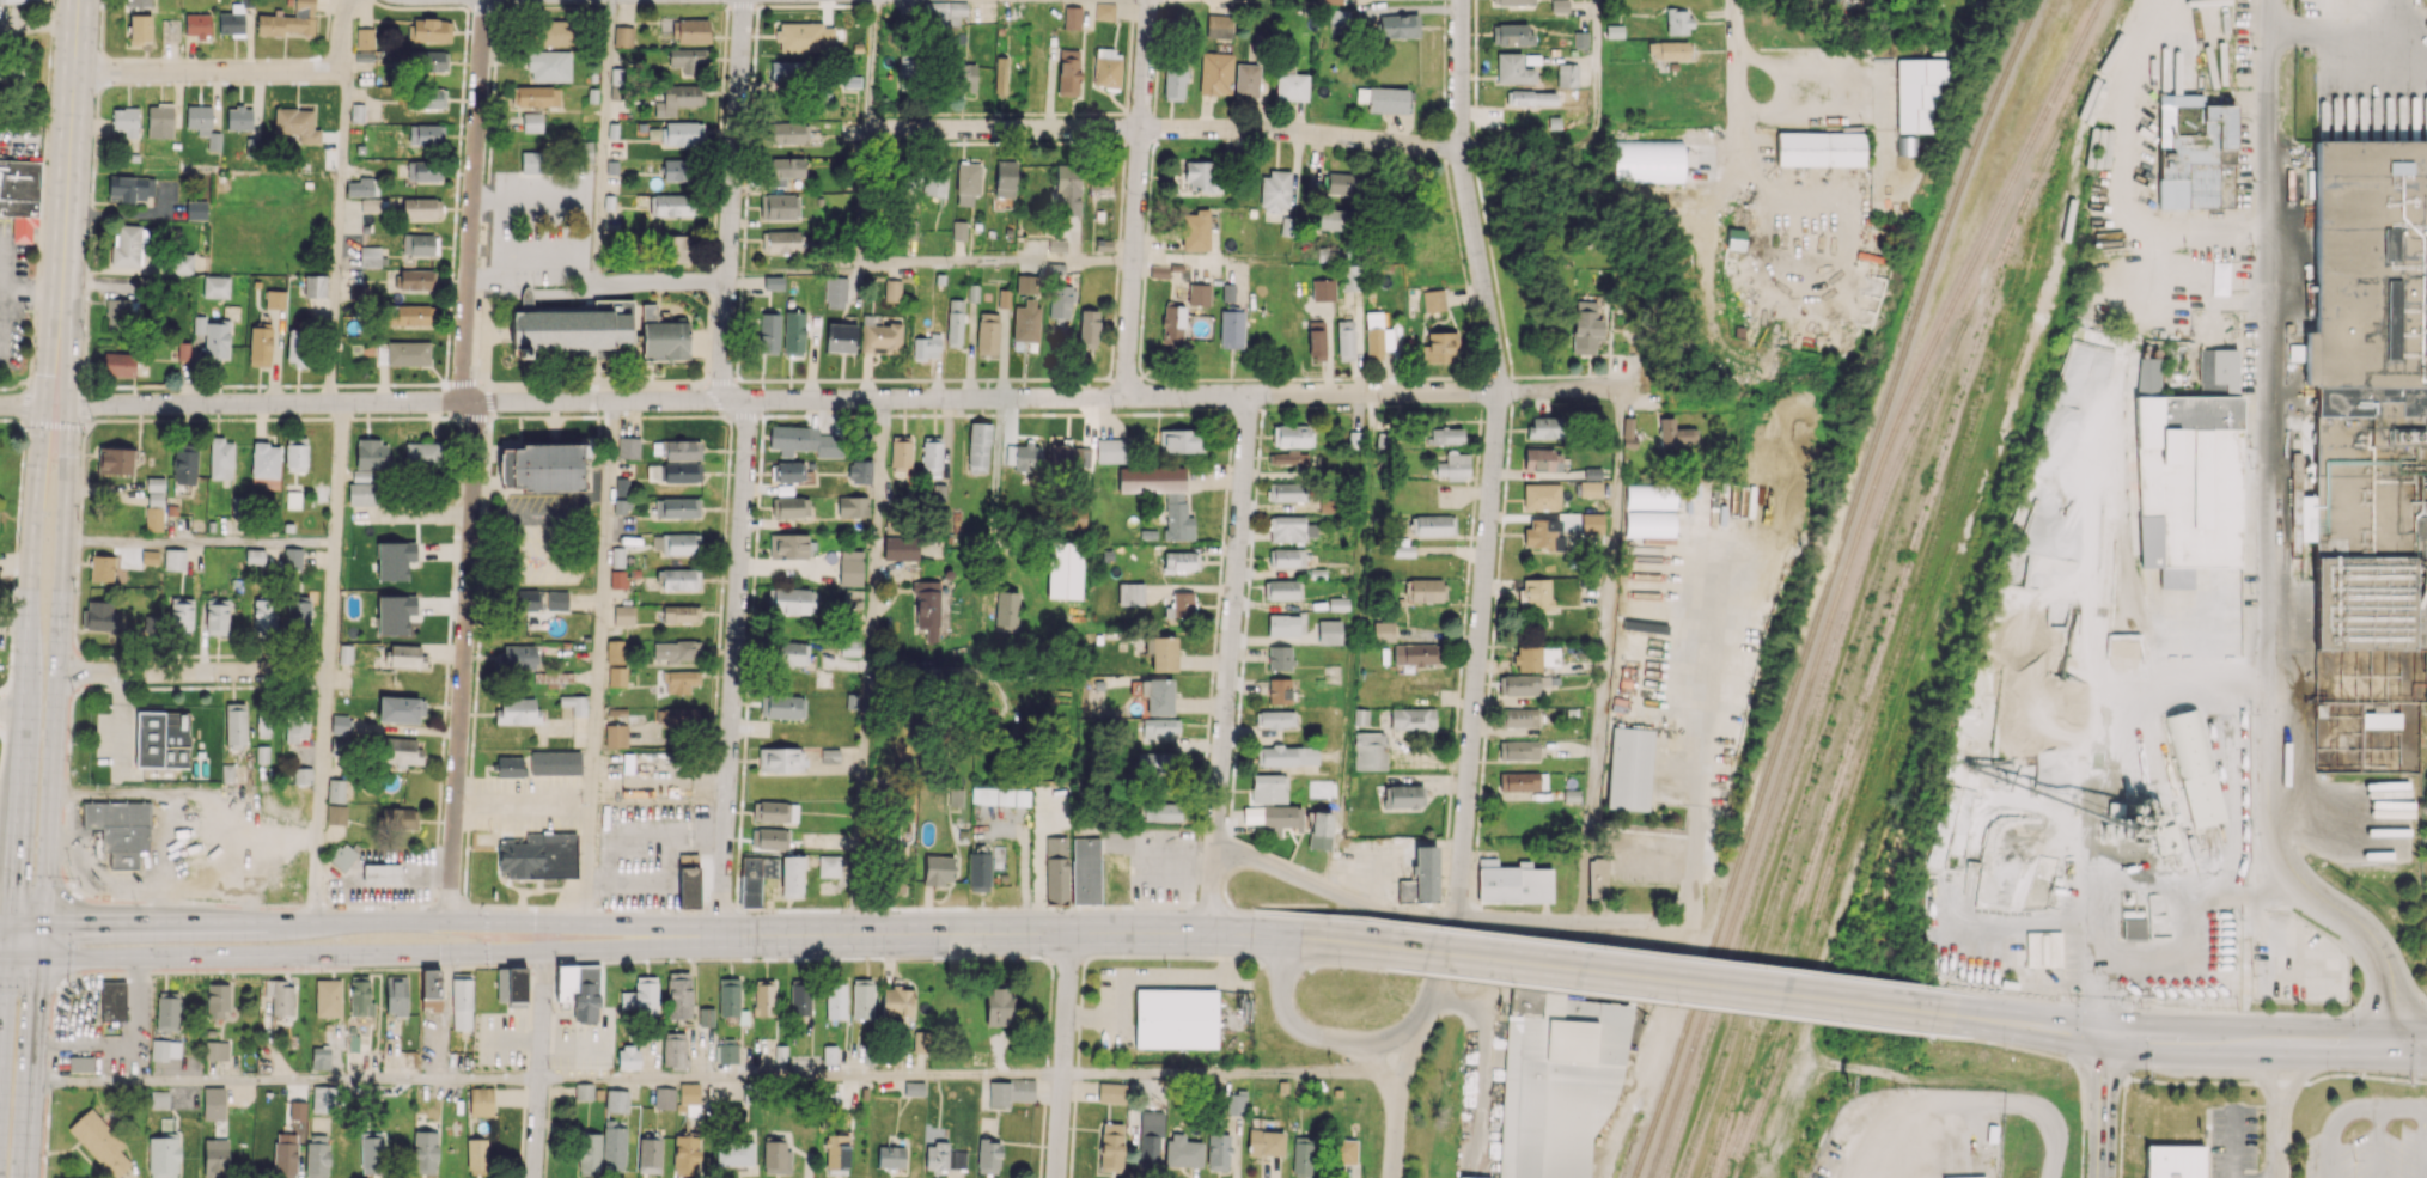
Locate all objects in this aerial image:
building: (17, 1)
building: (1331, 1)
building: (138, 2)
building: (1512, 2)
building: (1104, 11)
building: (943, 13)
building: (1338, 17)
building: (1071, 18)
building: (287, 20)
building: (1678, 22)
building: (197, 24)
building: (1219, 25)
building: (1398, 25)
building: (140, 28)
road: (2335, 29)
building: (170, 30)
building: (431, 30)
building: (690, 30)
building: (1614, 31)
road: (342, 32)
building: (553, 32)
building: (1511, 35)
building: (622, 36)
building: (364, 37)
building: (805, 37)
building: (1669, 50)
building: (687, 57)
building: (427, 60)
road: (871, 63)
road: (1733, 65)
building: (549, 66)
building: (908, 67)
building: (1105, 67)
building: (1512, 69)
road: (206, 71)
building: (786, 71)
building: (1068, 72)
building: (1215, 73)
building: (1000, 74)
building: (1567, 75)
building: (964, 77)
building: (1175, 78)
road: (1597, 78)
building: (1246, 80)
building: (1289, 83)
building: (1916, 92)
building: (537, 96)
building: (1532, 97)
building: (431, 98)
building: (676, 98)
building: (1385, 99)
building: (356, 112)
building: (239, 117)
building: (124, 121)
building: (159, 121)
railway: (2072, 121)
building: (532, 122)
building: (295, 123)
building: (202, 124)
road: (1165, 129)
building: (788, 132)
building: (426, 133)
building: (682, 133)
building: (1905, 146)
road: (1519, 147)
building: (1821, 148)
building: (2194, 153)
building: (531, 161)
building: (423, 170)
building: (675, 170)
building: (783, 170)
building: (1201, 176)
building: (1005, 178)
building: (934, 181)
building: (966, 182)
building: (1340, 182)
building: (360, 187)
building: (129, 188)
building: (1067, 189)
road: (864, 195)
building: (19, 196)
road: (1136, 197)
building: (1277, 197)
railway: (2050, 200)
road: (67, 201)
building: (370, 205)
building: (670, 205)
building: (780, 206)
building: (421, 207)
road: (598, 207)
building: (196, 209)
building: (1333, 219)
building: (909, 228)
building: (959, 230)
building: (1195, 230)
road: (339, 233)
building: (1734, 238)
building: (783, 240)
building: (417, 244)
building: (126, 245)
building: (1057, 245)
building: (675, 249)
road: (1703, 250)
building: (368, 256)
road: (1285, 261)
road: (996, 262)
building: (182, 263)
road: (798, 273)
building: (1349, 277)
building: (416, 279)
building: (773, 282)
building: (1026, 283)
building: (315, 285)
building: (215, 286)
building: (377, 286)
building: (1323, 289)
road: (31, 291)
building: (892, 291)
building: (836, 292)
building: (1199, 294)
building: (275, 299)
building: (1432, 299)
building: (1061, 300)
building: (118, 315)
building: (407, 315)
building: (1025, 321)
building: (955, 322)
building: (199, 324)
building: (1172, 324)
building: (1586, 325)
building: (573, 328)
building: (1087, 328)
building: (1231, 329)
building: (768, 332)
building: (794, 332)
building: (987, 332)
building: (661, 336)
building: (1377, 336)
building: (217, 337)
building: (840, 337)
building: (880, 337)
building: (1316, 340)
building: (1344, 340)
building: (260, 344)
building: (927, 346)
building: (295, 347)
building: (1437, 348)
building: (408, 353)
building: (118, 364)
building: (2218, 371)
road: (847, 398)
road: (28, 403)
building: (2368, 417)
railway: (2118, 420)
railway: (1917, 422)
road: (53, 423)
building: (1545, 427)
building: (1676, 433)
building: (1292, 435)
building: (1443, 435)
building: (1181, 440)
building: (804, 441)
building: (628, 446)
building: (978, 447)
building: (683, 450)
building: (1110, 450)
building: (901, 451)
building: (421, 453)
building: (295, 454)
building: (371, 454)
building: (1069, 456)
building: (931, 457)
building: (1023, 457)
building: (220, 458)
building: (1289, 458)
building: (115, 459)
building: (264, 459)
road: (475, 459)
road: (1492, 459)
building: (1542, 459)
building: (184, 464)
building: (543, 465)
road: (745, 465)
building: (1453, 465)
building: (788, 471)
building: (859, 471)
building: (682, 472)
road: (994, 477)
building: (2187, 480)
building: (621, 486)
building: (1590, 488)
building: (154, 490)
building: (1287, 490)
building: (1699, 492)
building: (362, 493)
building: (1541, 496)
building: (1175, 503)
building: (789, 506)
building: (853, 506)
building: (677, 507)
building: (153, 518)
building: (1591, 523)
building: (1433, 524)
building: (1289, 529)
building: (1543, 532)
building: (675, 542)
road: (200, 543)
building: (787, 545)
building: (1401, 547)
building: (900, 548)
road: (2267, 548)
building: (255, 555)
building: (150, 556)
building: (292, 557)
building: (1288, 557)
building: (175, 559)
building: (396, 559)
building: (1181, 561)
building: (100, 567)
building: (850, 567)
railway: (1860, 567)
building: (1065, 569)
railway: (1846, 576)
building: (617, 578)
railway: (1877, 578)
building: (679, 579)
railway: (2124, 582)
railway: (1829, 585)
building: (1283, 588)
building: (1420, 590)
building: (1130, 593)
building: (1535, 593)
building: (853, 598)
building: (525, 599)
building: (556, 599)
building: (793, 600)
building: (1182, 604)
building: (927, 608)
building: (1006, 611)
building: (395, 612)
building: (681, 612)
building: (181, 615)
building: (298, 615)
building: (623, 615)
building: (102, 616)
building: (217, 616)
building: (264, 616)
railway: (2135, 622)
building: (1282, 624)
building: (1645, 624)
building: (1329, 631)
building: (1383, 631)
building: (850, 647)
building: (676, 649)
building: (615, 651)
building: (1161, 652)
building: (789, 653)
building: (1416, 654)
road: (1605, 654)
building: (405, 655)
building: (518, 655)
building: (1279, 657)
building: (1533, 657)
road: (24, 661)
road: (56, 661)
road: (596, 661)
road: (1227, 663)
road: (328, 664)
road: (868, 666)
road: (191, 672)
road: (940, 673)
building: (616, 676)
building: (553, 677)
railway: (1868, 678)
building: (679, 680)
building: (1522, 684)
railway: (1889, 688)
building: (1279, 690)
railway: (2140, 695)
building: (1157, 696)
building: (574, 703)
building: (782, 706)
road: (11, 708)
building: (398, 709)
building: (517, 710)
building: (676, 716)
building: (1413, 718)
building: (1520, 718)
building: (1274, 719)
building: (2380, 720)
building: (234, 724)
building: (341, 724)
building: (262, 725)
building: (1160, 726)
building: (297, 727)
building: (615, 736)
building: (161, 739)
building: (1370, 750)
building: (1518, 750)
building: (400, 751)
building: (830, 755)
building: (1287, 755)
building: (780, 759)
building: (555, 762)
building: (1153, 764)
building: (510, 767)
building: (1629, 768)
building: (2194, 768)
railway: (1873, 773)
building: (303, 775)
building: (1522, 780)
building: (1268, 788)
building: (335, 791)
building: (992, 795)
building: (956, 796)
building: (1022, 796)
road: (523, 799)
building: (778, 811)
building: (1159, 811)
building: (336, 814)
building: (1281, 817)
building: (120, 829)
building: (1319, 830)
road: (1702, 837)
building: (769, 838)
building: (539, 855)
building: (342, 856)
building: (831, 866)
building: (937, 869)
building: (1056, 869)
building: (978, 871)
building: (1085, 871)
building: (382, 874)
building: (791, 877)
building: (1421, 877)
building: (755, 878)
building: (1597, 878)
building: (688, 880)
building: (1512, 883)
road: (1334, 891)
railway: (1754, 892)
road: (1218, 903)
road: (1292, 904)
road: (518, 907)
road: (379, 922)
traffic signals: (11, 924)
road: (20, 924)
traffic signals: (42, 924)
building: (2134, 928)
road: (1054, 934)
road: (486, 938)
road: (10, 941)
road: (41, 941)
building: (2043, 948)
road: (364, 954)
road: (1679, 956)
road: (5, 958)
traffic signals: (10, 958)
traffic signals: (41, 958)
road: (1432, 971)
road: (1676, 981)
building: (511, 985)
building: (431, 989)
building: (579, 989)
building: (396, 995)
building: (678, 995)
building: (279, 996)
building: (360, 996)
building: (640, 996)
building: (328, 997)
building: (763, 997)
building: (730, 999)
building: (800, 999)
building: (861, 999)
building: (112, 1000)
building: (218, 1000)
building: (896, 1000)
building: (835, 1001)
building: (462, 1002)
road: (136, 1005)
building: (998, 1007)
road: (2182, 1009)
building: (167, 1011)
road: (1286, 1012)
road: (443, 1017)
building: (706, 1017)
building: (1176, 1018)
road: (4, 1026)
road: (1382, 1036)
traffic signals: (2106, 1036)
building: (921, 1040)
road: (2193, 1040)
traffic signals: (2397, 1044)
road: (102, 1049)
building: (165, 1049)
building: (673, 1049)
building: (215, 1050)
building: (727, 1050)
road: (1062, 1056)
building: (628, 1057)
building: (321, 1058)
road: (1373, 1058)
building: (80, 1063)
road: (538, 1064)
road: (33, 1068)
road: (713, 1078)
building: (1556, 1087)
building: (914, 1088)
building: (584, 1091)
building: (689, 1092)
building: (1010, 1092)
building: (1110, 1092)
building: (664, 1097)
road: (1390, 1098)
building: (159, 1099)
building: (323, 1099)
building: (480, 1100)
building: (616, 1100)
road: (2280, 1100)
building: (213, 1103)
building: (1236, 1104)
road: (1982, 1104)
road: (2102, 1106)
road: (2349, 1109)
building: (297, 1110)
building: (1150, 1140)
road: (2277, 1141)
building: (99, 1142)
building: (1264, 1142)
road: (2232, 1145)
building: (1111, 1147)
building: (614, 1148)
building: (1183, 1150)
building: (1219, 1150)
building: (1343, 1150)
building: (371, 1152)
building: (425, 1152)
building: (734, 1152)
building: (836, 1152)
building: (589, 1154)
building: (650, 1154)
building: (685, 1154)
building: (163, 1155)
building: (285, 1155)
building: (317, 1155)
building: (477, 1155)
building: (988, 1155)
building: (890, 1156)
building: (944, 1156)
building: (215, 1158)
building: (776, 1158)
building: (1301, 1159)
building: (2172, 1161)
building: (1469, 1177)

